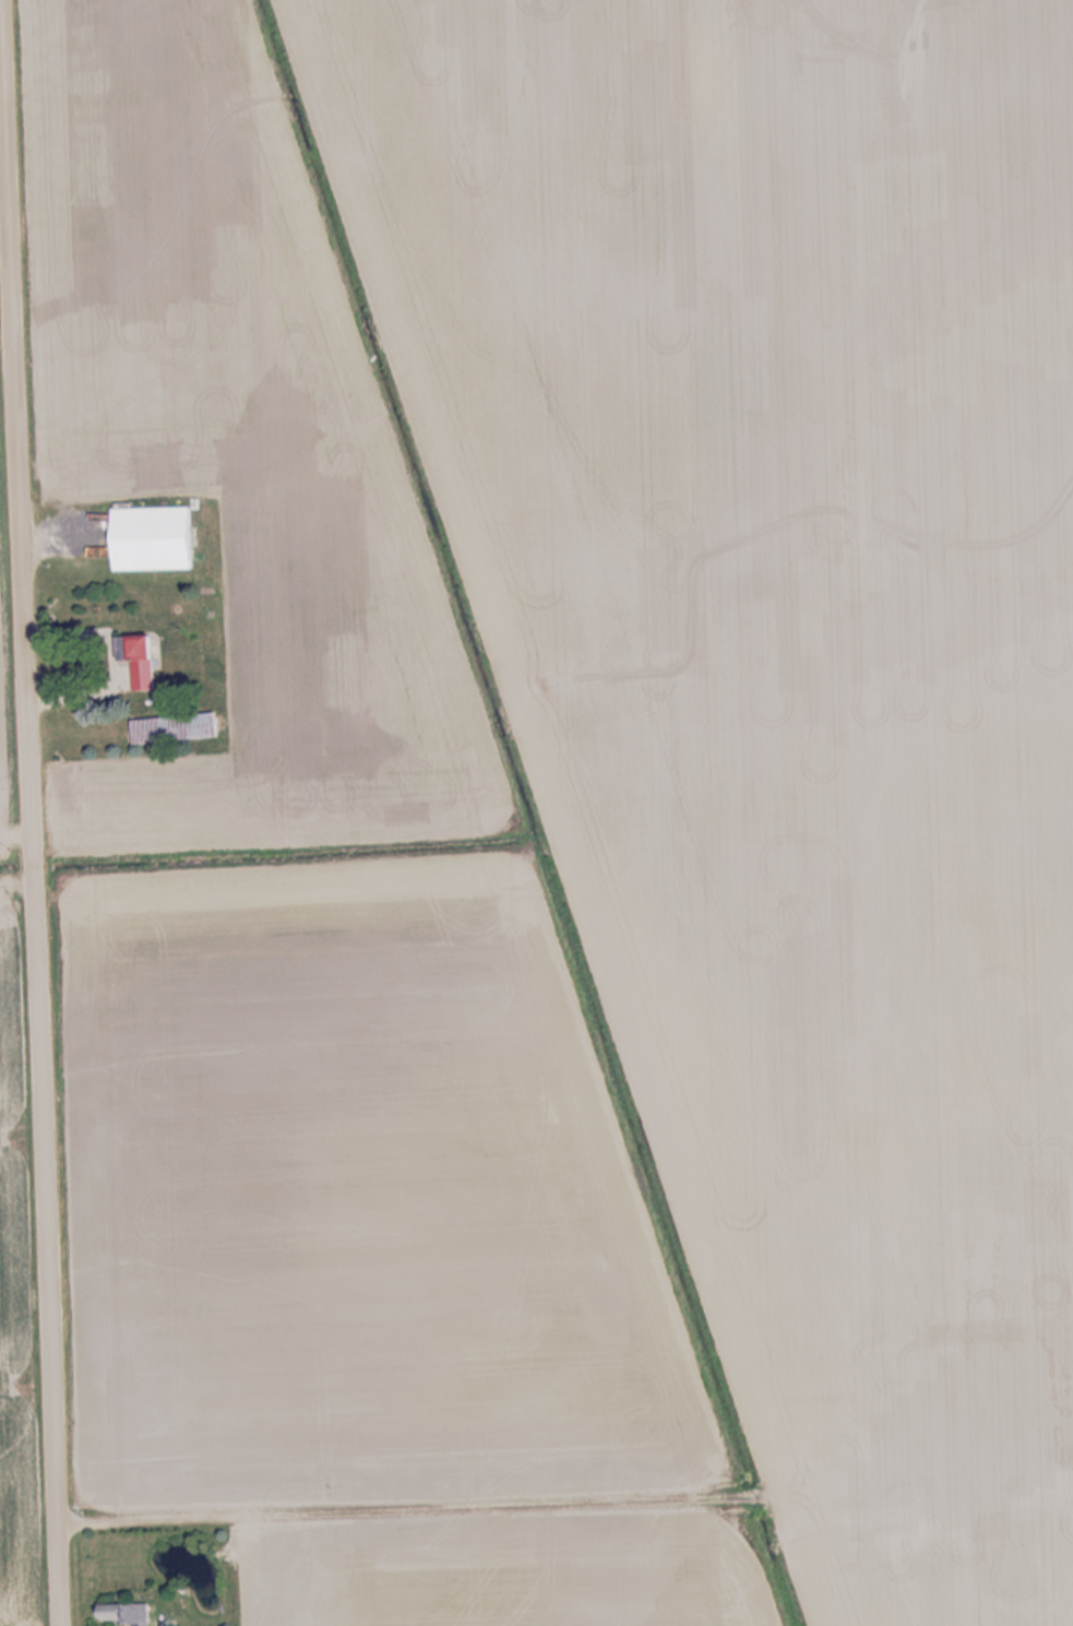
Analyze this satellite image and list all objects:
building: (157, 539)
building: (134, 664)
building: (180, 729)
road: (29, 874)
building: (128, 1614)

